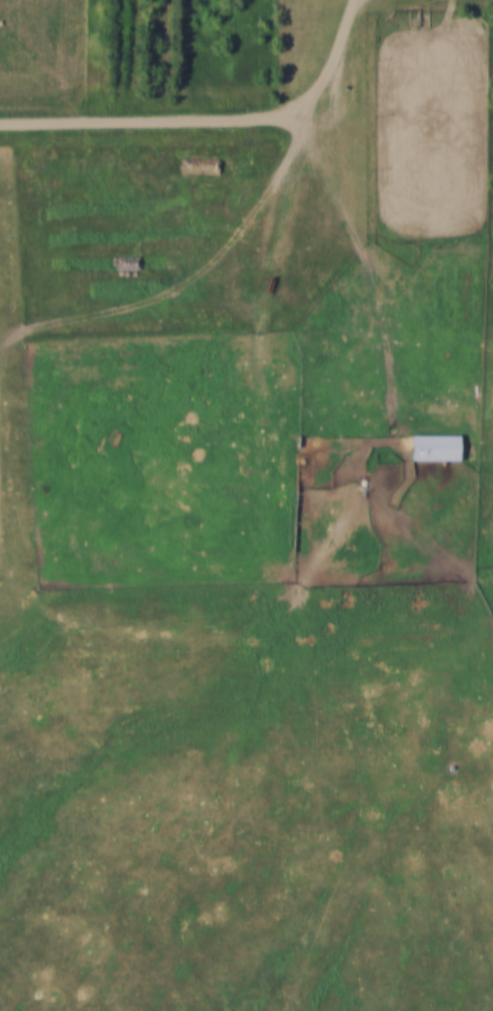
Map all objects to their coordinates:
road: (213, 116)
building: (437, 444)
road: (484, 494)

